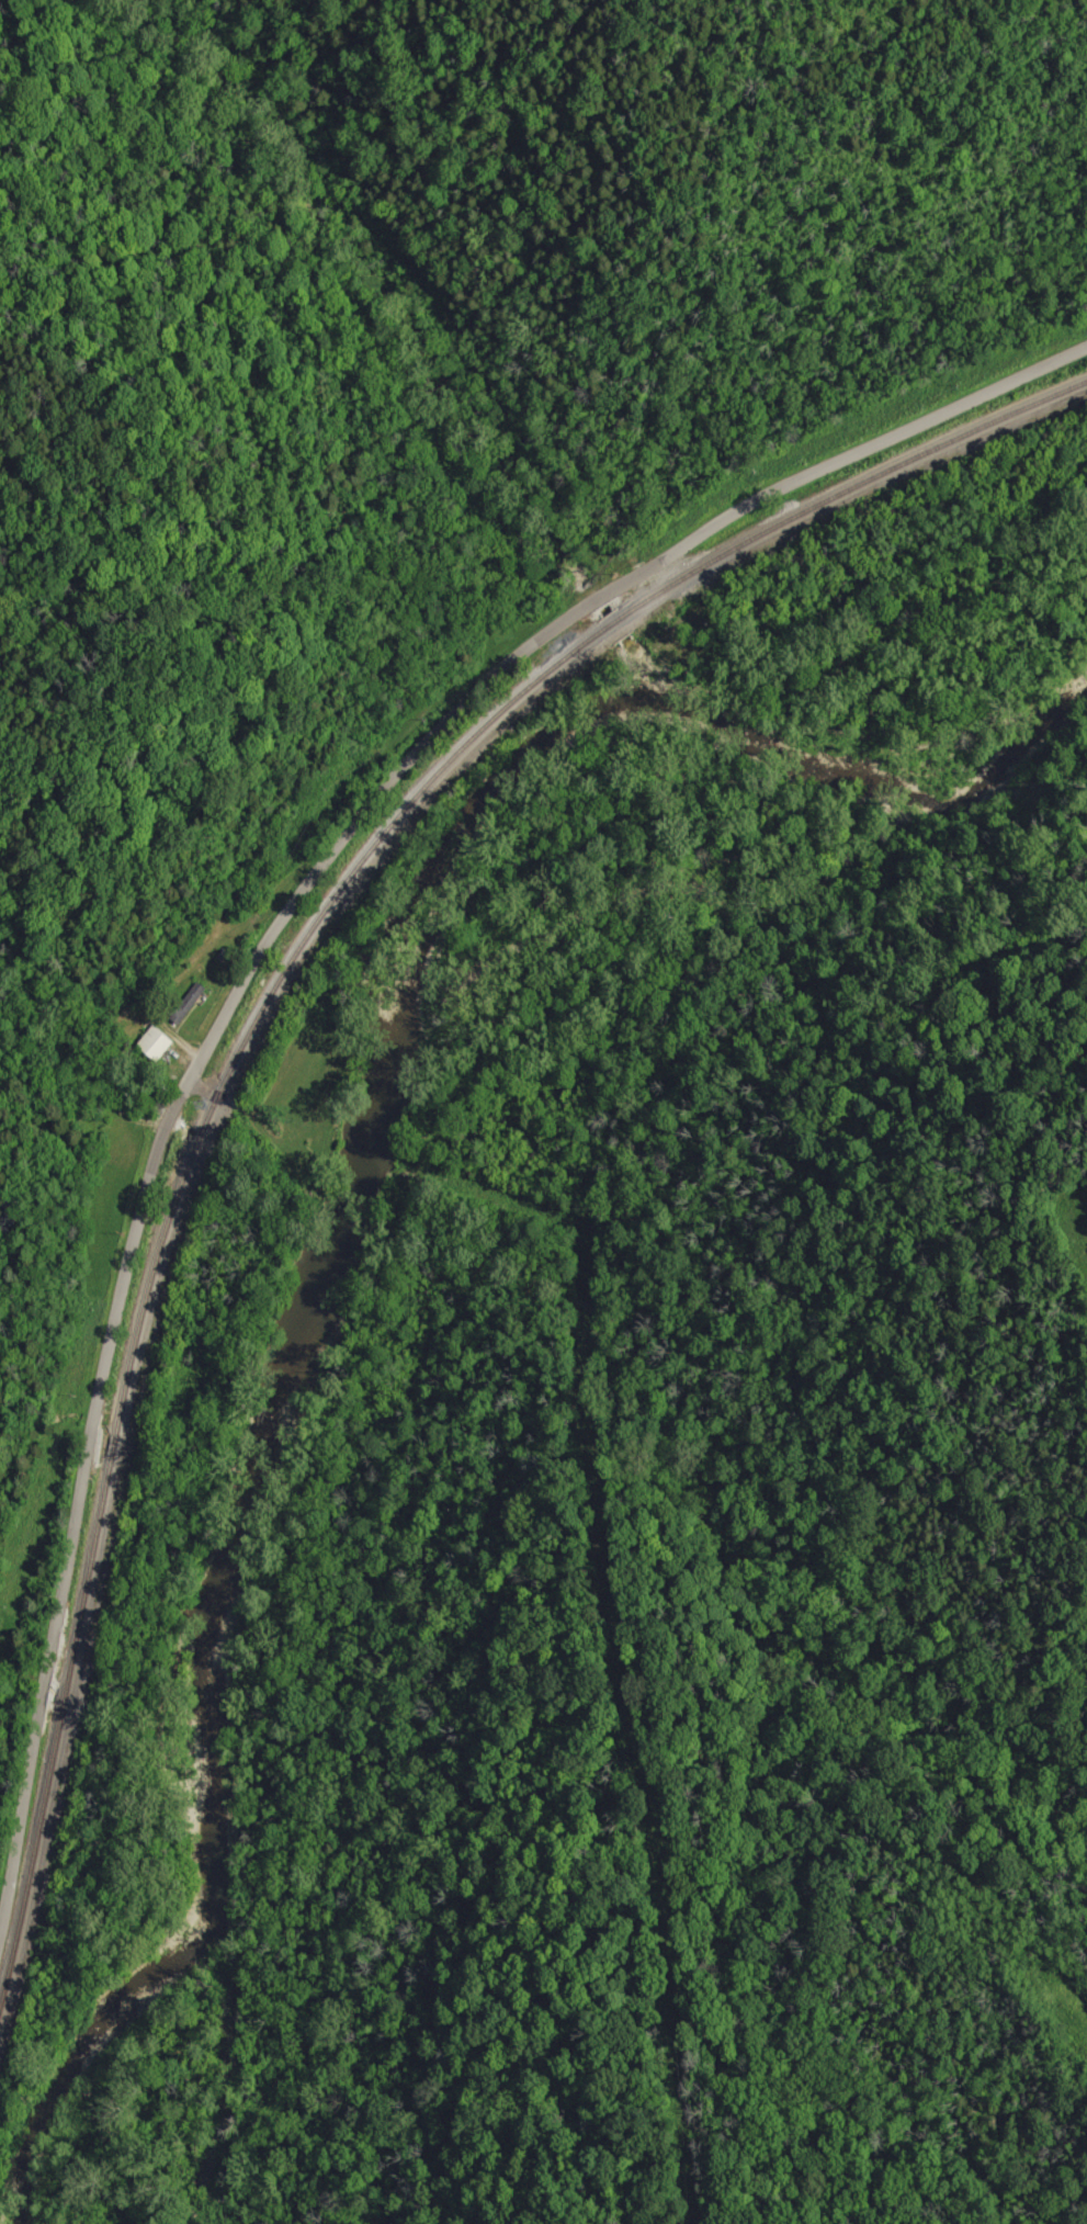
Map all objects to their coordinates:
road: (274, 918)
railway: (263, 992)
building: (193, 998)
building: (156, 1042)

